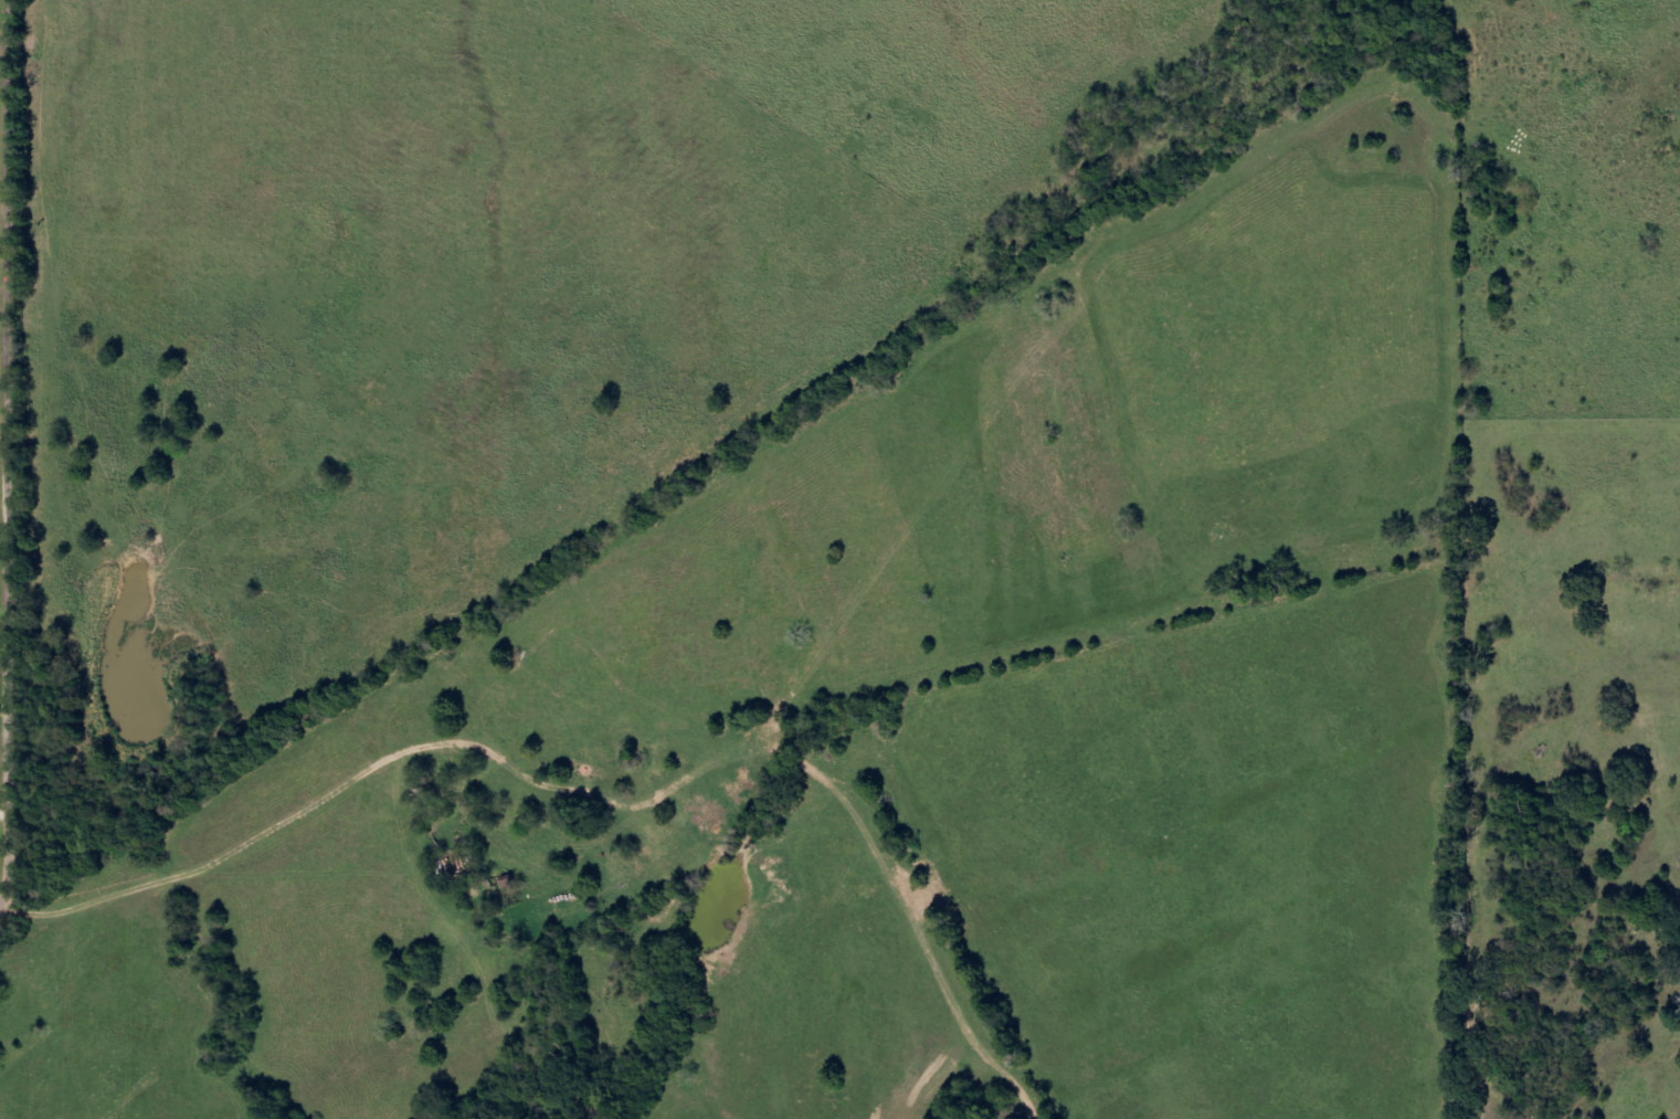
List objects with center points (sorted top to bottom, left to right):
road: (3, 834)

